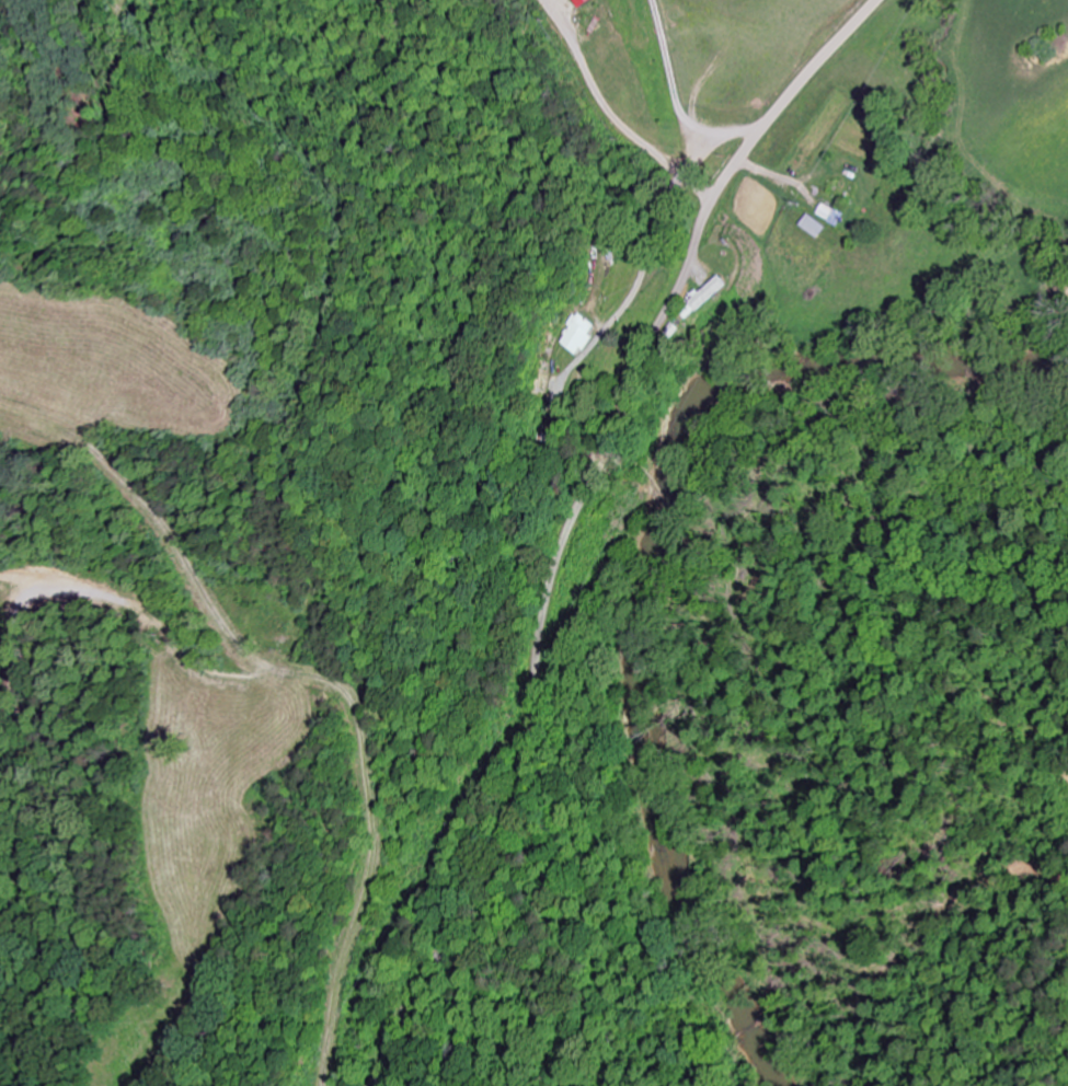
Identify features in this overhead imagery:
building: (589, 3)
building: (835, 216)
building: (712, 293)
building: (577, 336)
road: (571, 521)

